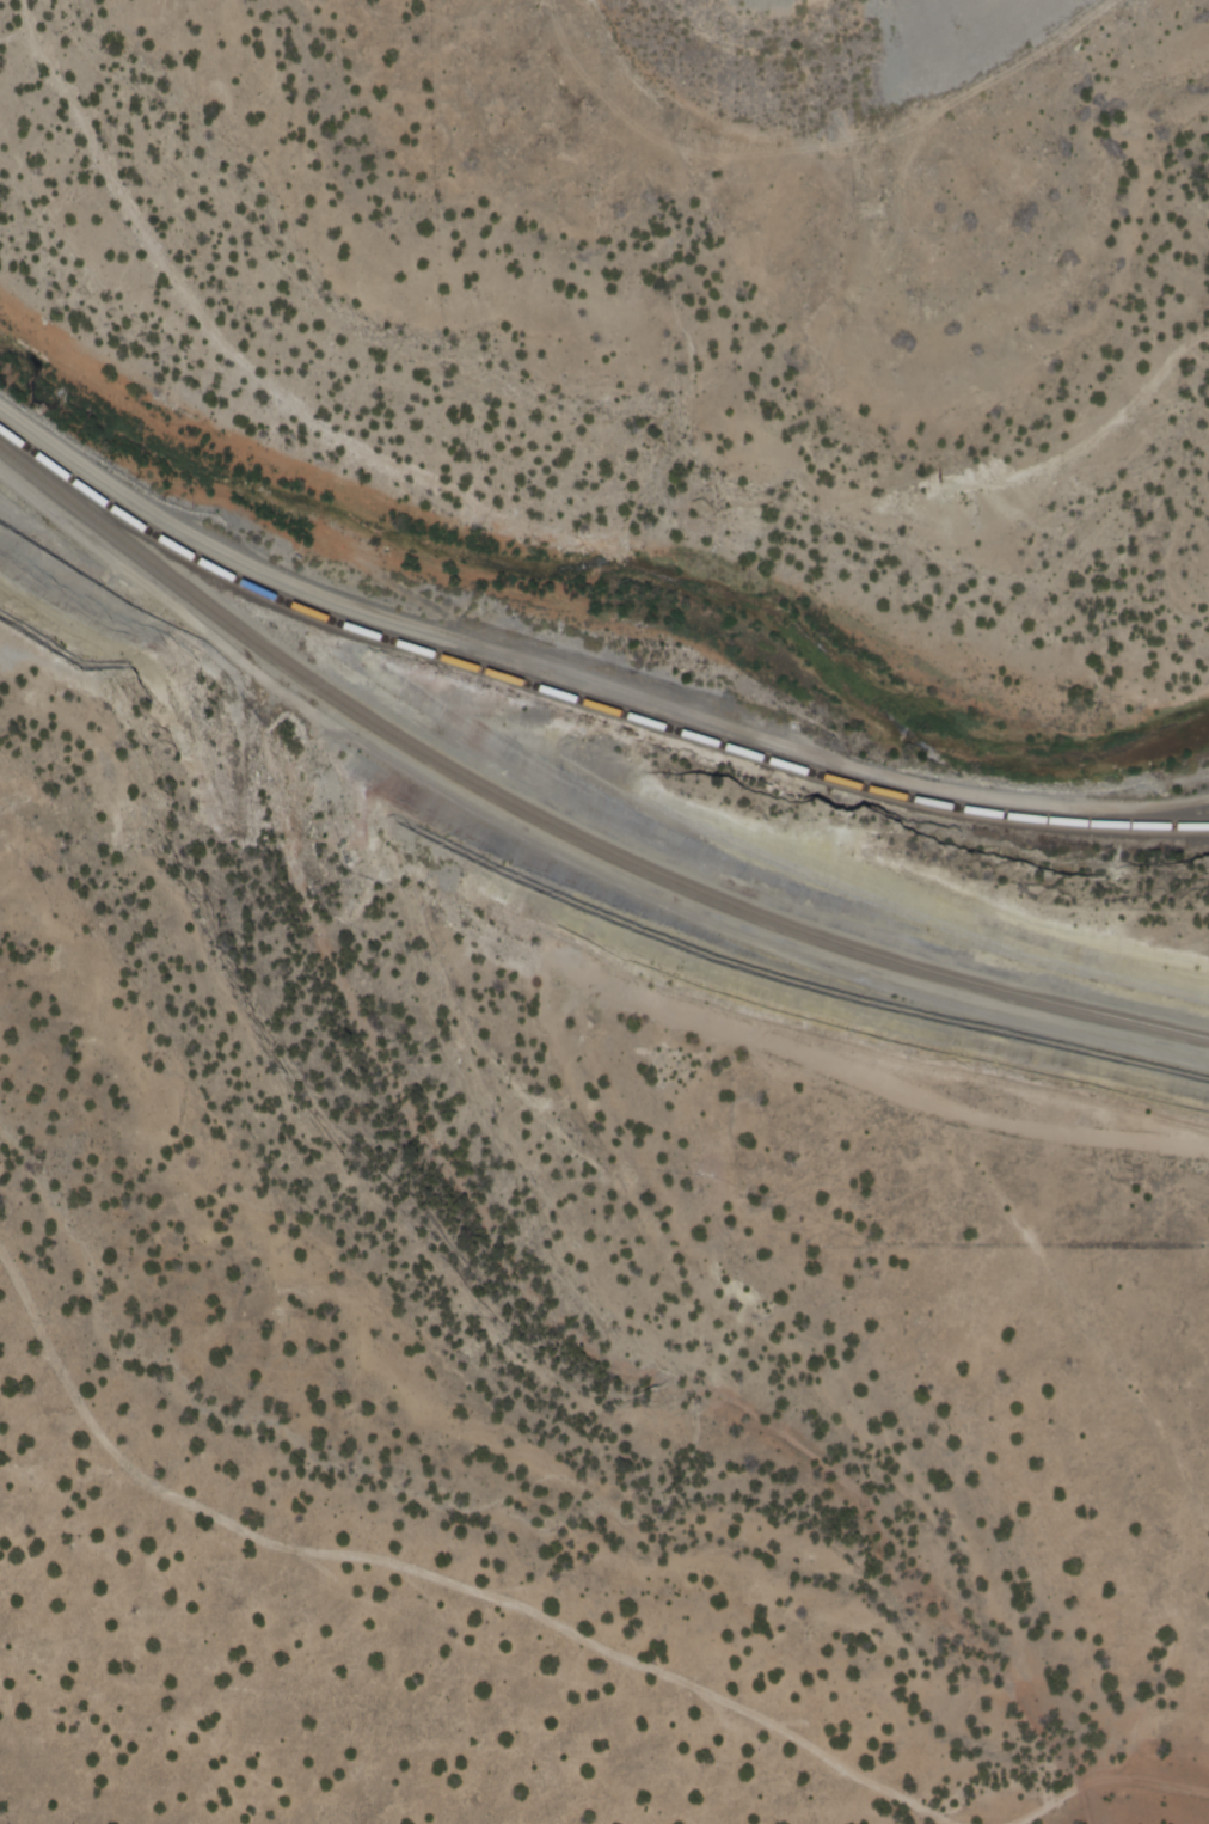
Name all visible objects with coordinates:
quarry: (1023, 91)
railway: (579, 704)
railway: (563, 834)
road: (446, 1578)
road: (1103, 1779)

